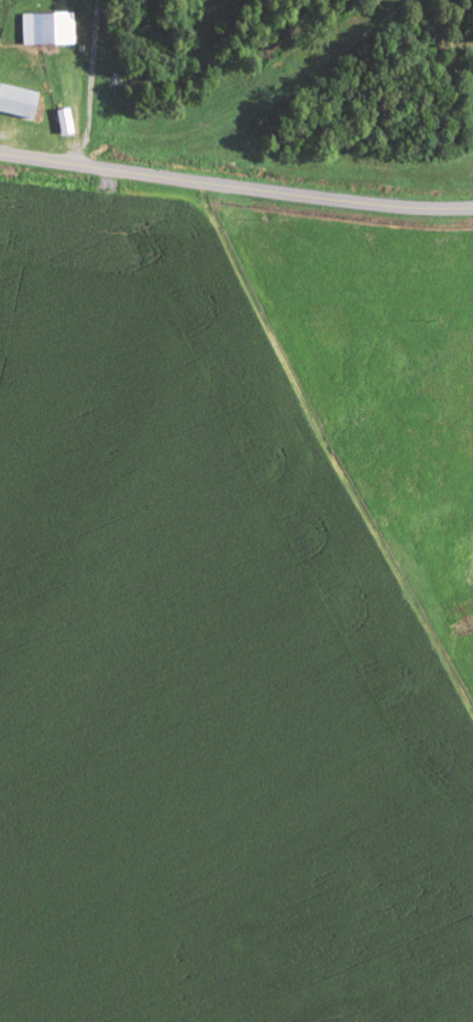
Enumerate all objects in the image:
building: (47, 30)
building: (21, 105)
building: (64, 123)
road: (235, 187)

